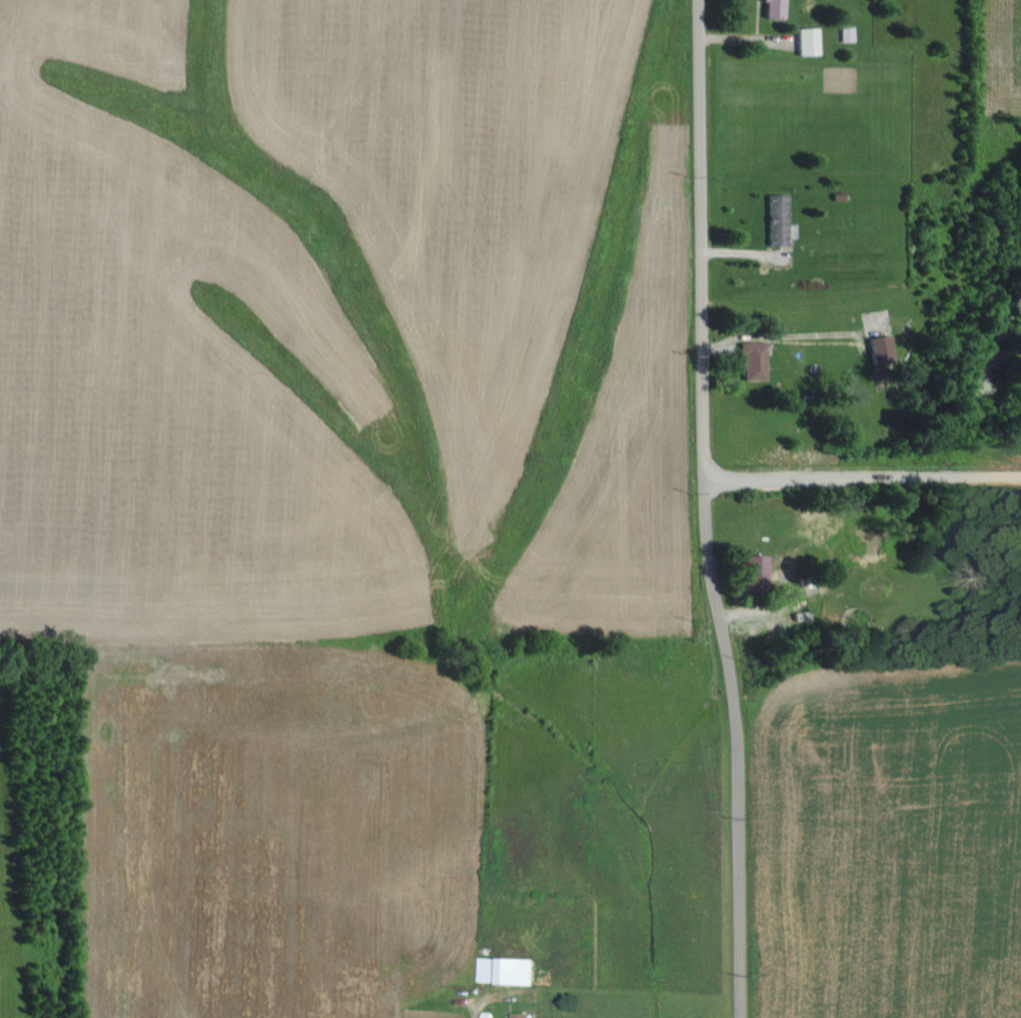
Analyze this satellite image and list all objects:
building: (774, 8)
building: (807, 39)
building: (776, 223)
building: (880, 349)
building: (752, 359)
road: (705, 509)
building: (754, 572)
building: (506, 969)
building: (521, 1015)

